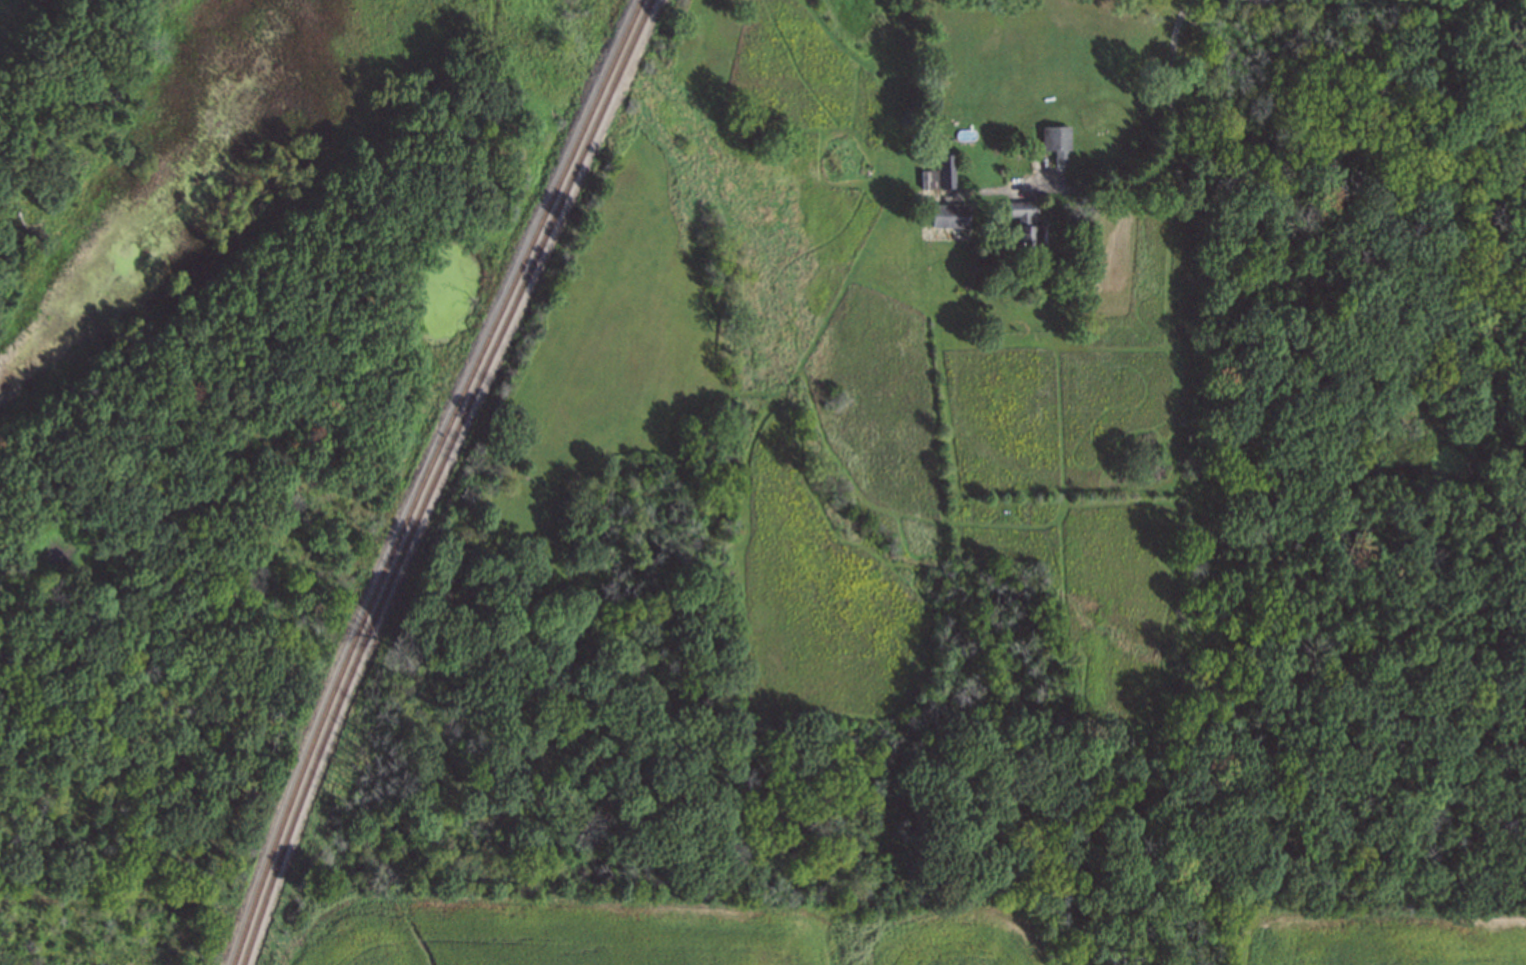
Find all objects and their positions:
building: (1057, 142)
road: (1162, 148)
building: (940, 174)
building: (951, 215)
building: (1026, 224)
railway: (424, 477)
railway: (435, 477)
crop: (680, 940)
crop: (1386, 942)

